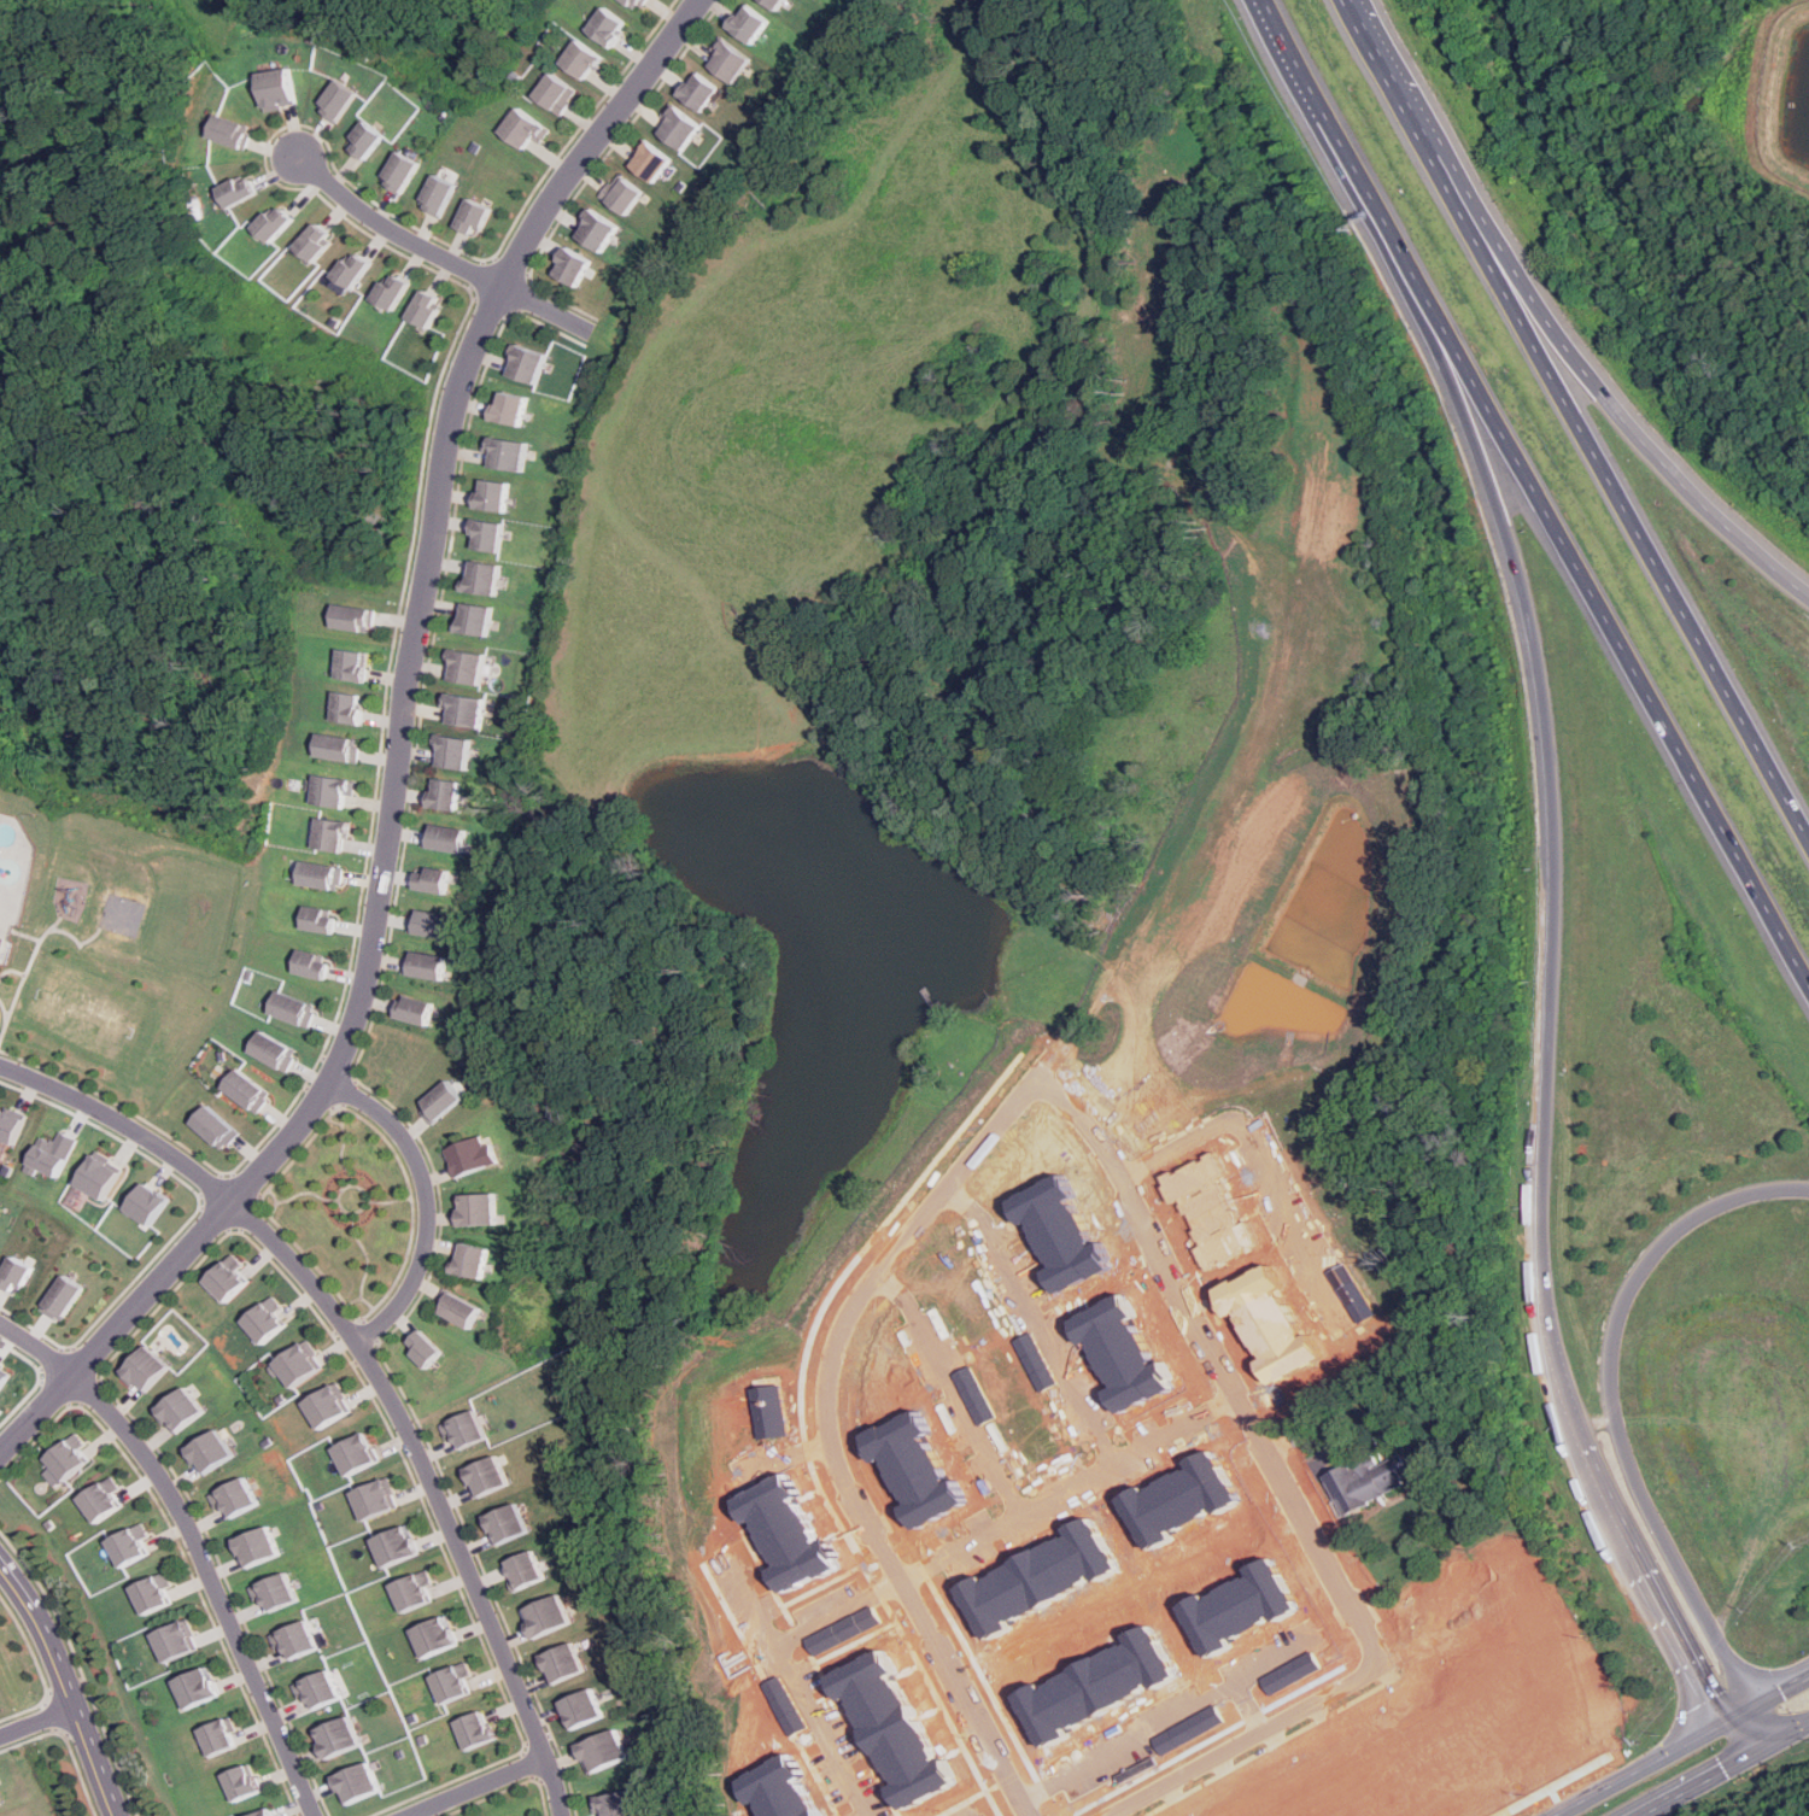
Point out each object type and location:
building: (637, 2)
building: (774, 4)
road: (1365, 23)
building: (749, 24)
building: (609, 27)
building: (580, 60)
building: (726, 61)
road: (1398, 82)
building: (276, 87)
building: (695, 92)
building: (555, 94)
building: (335, 99)
building: (522, 128)
building: (674, 128)
building: (228, 130)
road: (1331, 136)
building: (364, 140)
building: (645, 162)
building: (397, 172)
building: (239, 192)
building: (616, 194)
building: (434, 195)
building: (469, 217)
building: (275, 223)
building: (591, 232)
building: (316, 242)
road: (435, 257)
building: (566, 268)
building: (352, 271)
building: (391, 293)
building: (425, 310)
building: (525, 365)
road: (1588, 377)
building: (510, 409)
building: (508, 455)
road: (1609, 481)
building: (494, 497)
building: (487, 537)
building: (482, 579)
building: (361, 619)
building: (475, 620)
road: (1609, 627)
building: (357, 666)
building: (467, 668)
building: (350, 708)
building: (466, 711)
building: (336, 748)
road: (400, 752)
building: (452, 752)
building: (329, 791)
building: (445, 795)
building: (327, 834)
building: (440, 838)
road: (1556, 855)
building: (316, 875)
building: (431, 878)
building: (311, 919)
building: (427, 925)
building: (1, 937)
building: (423, 963)
building: (305, 966)
building: (286, 1008)
building: (410, 1008)
building: (265, 1049)
building: (238, 1091)
building: (438, 1100)
building: (8, 1125)
building: (206, 1127)
building: (48, 1154)
building: (470, 1155)
building: (95, 1174)
building: (144, 1203)
road: (425, 1203)
building: (478, 1208)
building: (469, 1259)
building: (13, 1272)
building: (224, 1277)
building: (62, 1296)
building: (458, 1310)
road: (1044, 1316)
building: (263, 1319)
building: (423, 1347)
building: (295, 1364)
building: (144, 1369)
road: (370, 1370)
building: (1179, 1371)
building: (1, 1377)
road: (958, 1387)
road: (1612, 1404)
building: (327, 1405)
building: (178, 1410)
building: (461, 1430)
road: (831, 1436)
building: (210, 1452)
building: (352, 1453)
building: (70, 1459)
building: (484, 1476)
building: (1368, 1480)
road: (1071, 1492)
road: (1296, 1492)
building: (238, 1496)
building: (107, 1498)
building: (375, 1498)
building: (1202, 1500)
road: (1609, 1515)
building: (503, 1523)
road: (199, 1542)
building: (136, 1543)
building: (393, 1545)
building: (260, 1546)
building: (522, 1569)
building: (280, 1591)
building: (412, 1591)
building: (160, 1592)
road: (842, 1612)
building: (543, 1615)
building: (432, 1635)
building: (300, 1639)
building: (181, 1640)
road: (1681, 1647)
building: (560, 1662)
building: (451, 1681)
road: (66, 1683)
road: (808, 1685)
building: (200, 1687)
building: (322, 1689)
road: (1782, 1691)
traffic signals: (1757, 1706)
building: (580, 1707)
road: (1739, 1715)
road: (37, 1722)
traffic signals: (1722, 1724)
road: (1760, 1728)
building: (473, 1729)
building: (221, 1736)
building: (338, 1736)
road: (1743, 1736)
road: (1786, 1736)
traffic signals: (1763, 1750)
building: (601, 1751)
road: (1638, 1770)
building: (244, 1781)
building: (358, 1782)
road: (1702, 1782)
road: (476, 1787)
building: (0, 1800)
building: (615, 1804)
building: (265, 1812)

